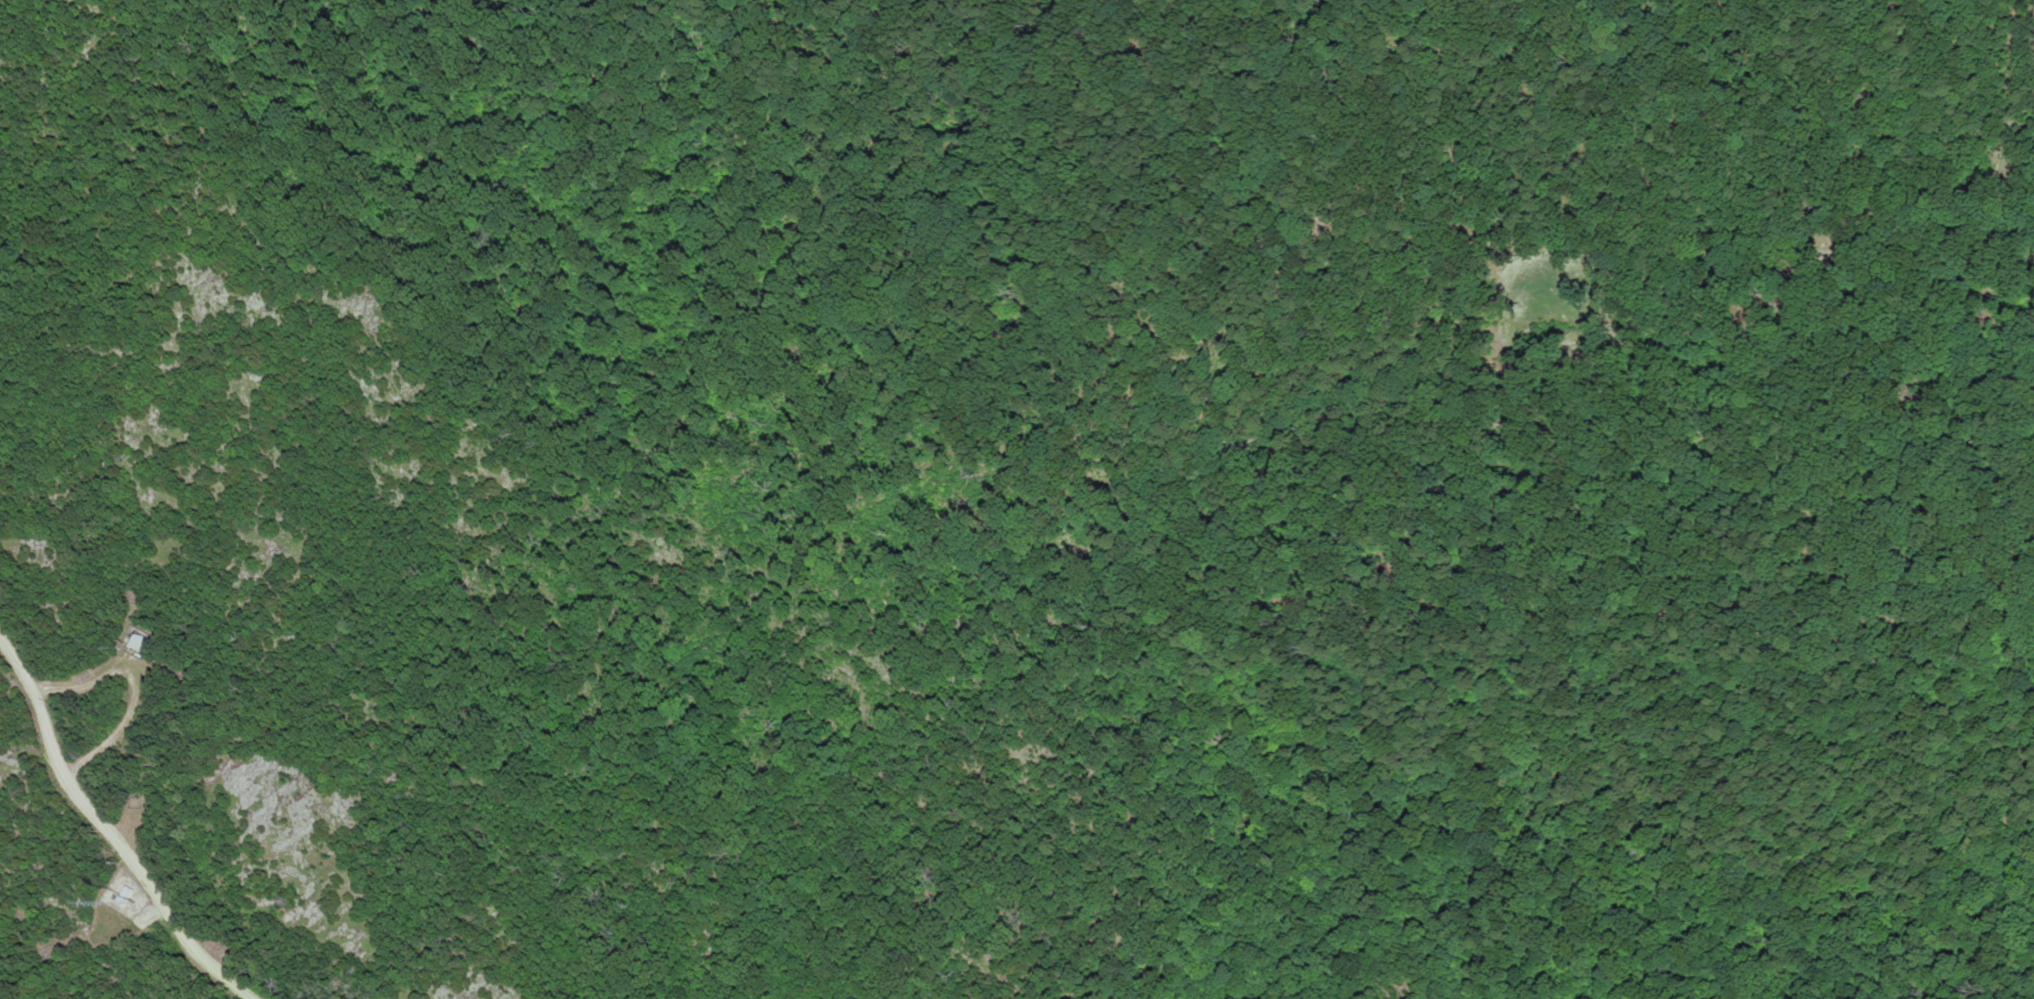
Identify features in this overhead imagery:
building: (137, 641)

